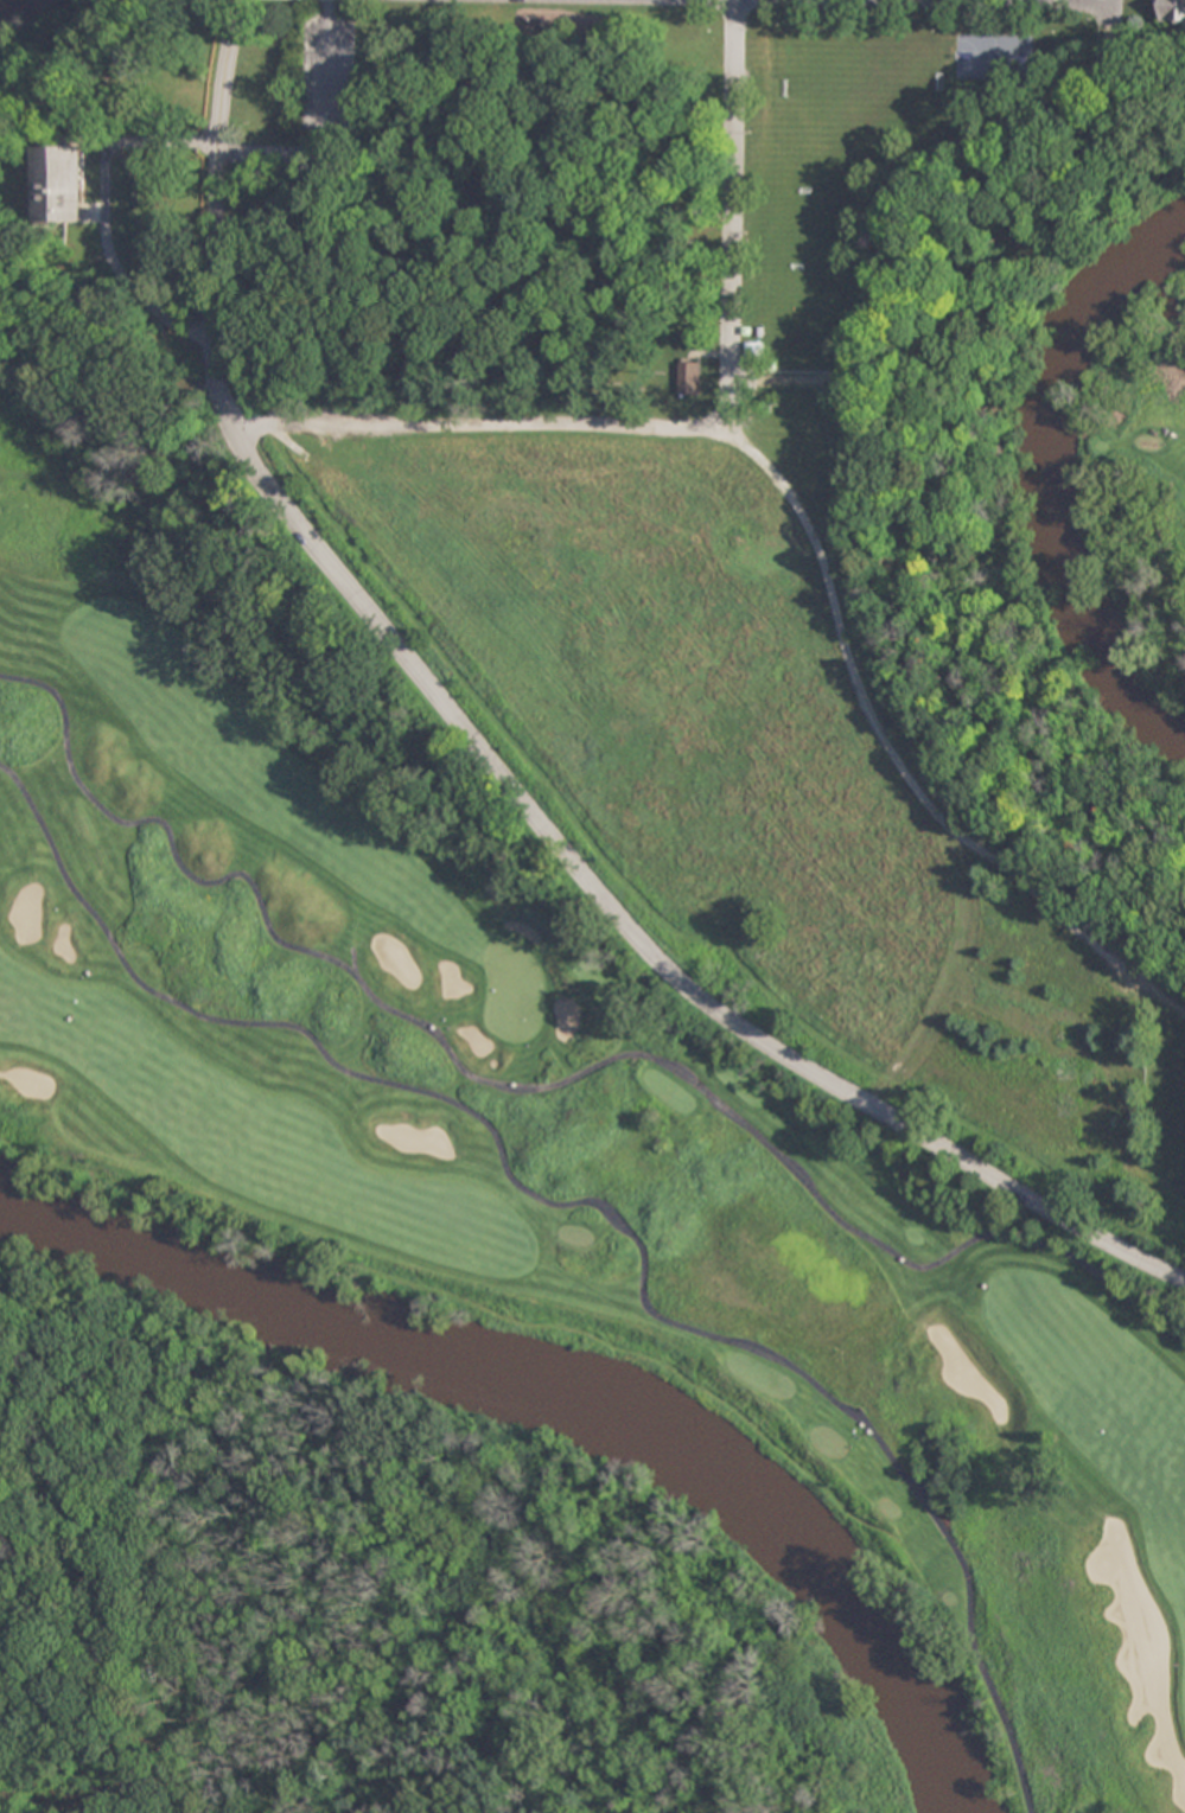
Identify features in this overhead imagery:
road: (1065, 0)
river: (11, 5)
building: (1173, 11)
road: (733, 171)
building: (65, 183)
park: (669, 203)
road: (109, 215)
building: (612, 254)
building: (673, 375)
road: (520, 423)
river: (1039, 471)
road: (499, 768)
road: (891, 768)
park: (512, 990)
park: (635, 1049)
road: (437, 1051)
road: (599, 1204)
river: (560, 1381)

